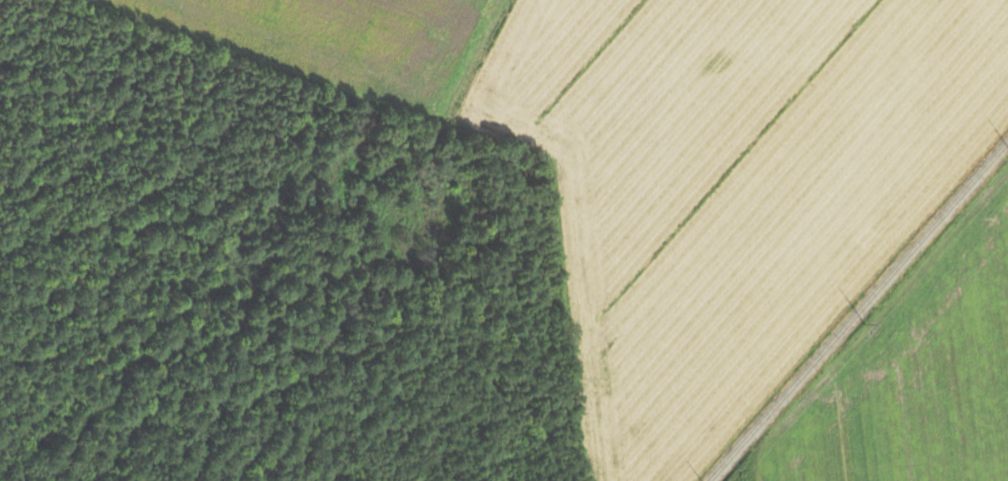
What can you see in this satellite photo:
railway: (858, 311)
power tower: (866, 321)

